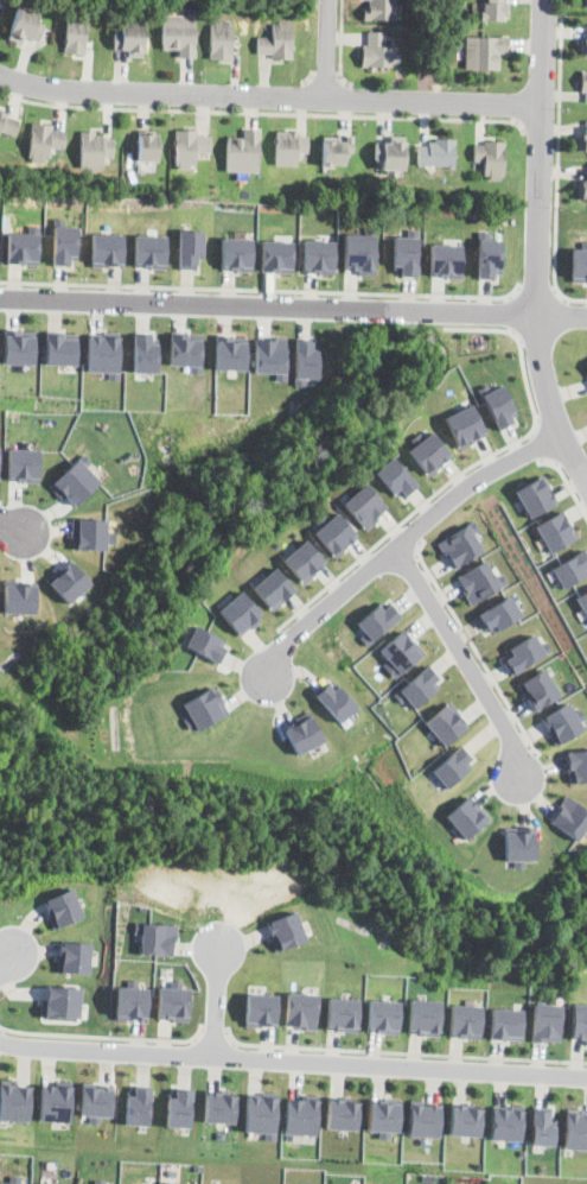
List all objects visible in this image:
building: (585, 2)
building: (454, 6)
building: (376, 10)
building: (493, 11)
building: (91, 13)
building: (455, 17)
building: (25, 26)
building: (179, 34)
building: (75, 36)
building: (129, 40)
building: (221, 42)
building: (276, 42)
road: (342, 45)
building: (585, 49)
road: (326, 50)
building: (376, 52)
building: (484, 52)
building: (583, 84)
road: (268, 97)
road: (350, 101)
road: (263, 113)
building: (7, 126)
road: (543, 131)
building: (42, 141)
building: (582, 141)
building: (142, 146)
building: (186, 147)
building: (92, 148)
building: (286, 148)
building: (334, 151)
building: (241, 153)
building: (435, 153)
building: (388, 154)
building: (487, 158)
road: (560, 160)
building: (582, 189)
building: (64, 242)
road: (538, 246)
building: (23, 247)
building: (189, 248)
building: (107, 249)
building: (149, 251)
building: (359, 252)
building: (236, 253)
building: (406, 254)
building: (276, 255)
building: (318, 255)
building: (487, 255)
building: (445, 259)
building: (579, 262)
road: (262, 287)
road: (537, 290)
road: (293, 308)
road: (511, 312)
building: (19, 347)
building: (60, 347)
building: (185, 350)
building: (143, 352)
building: (229, 352)
building: (103, 353)
building: (269, 355)
building: (304, 360)
building: (586, 363)
building: (497, 404)
building: (464, 425)
road: (538, 447)
building: (427, 451)
building: (0, 457)
building: (24, 464)
road: (470, 468)
building: (395, 477)
building: (75, 480)
road: (567, 482)
building: (534, 495)
building: (364, 505)
road: (11, 523)
building: (555, 530)
building: (334, 532)
road: (409, 532)
building: (89, 533)
road: (402, 542)
building: (460, 544)
building: (302, 559)
building: (570, 568)
building: (68, 581)
building: (479, 581)
building: (273, 588)
building: (19, 596)
building: (582, 602)
building: (240, 612)
building: (499, 614)
building: (377, 621)
building: (205, 642)
road: (472, 644)
building: (524, 652)
building: (398, 653)
road: (464, 658)
building: (416, 686)
building: (538, 689)
building: (334, 701)
building: (204, 708)
building: (445, 722)
building: (563, 722)
building: (302, 733)
building: (576, 765)
building: (452, 766)
building: (466, 817)
building: (570, 817)
building: (518, 844)
building: (62, 907)
building: (285, 930)
building: (157, 937)
building: (74, 956)
road: (5, 964)
road: (217, 998)
building: (62, 1001)
building: (132, 1001)
building: (173, 1001)
building: (301, 1008)
building: (261, 1009)
building: (342, 1014)
building: (383, 1015)
building: (425, 1017)
building: (465, 1020)
building: (545, 1021)
building: (579, 1021)
building: (506, 1024)
road: (213, 1036)
road: (103, 1037)
road: (403, 1053)
road: (293, 1060)
building: (14, 1101)
building: (96, 1101)
building: (56, 1102)
building: (138, 1106)
building: (179, 1107)
building: (218, 1107)
building: (261, 1113)
building: (342, 1113)
building: (301, 1115)
building: (384, 1115)
building: (423, 1117)
building: (466, 1119)
building: (506, 1122)
building: (542, 1126)
building: (576, 1128)
building: (12, 1182)
building: (177, 1183)

